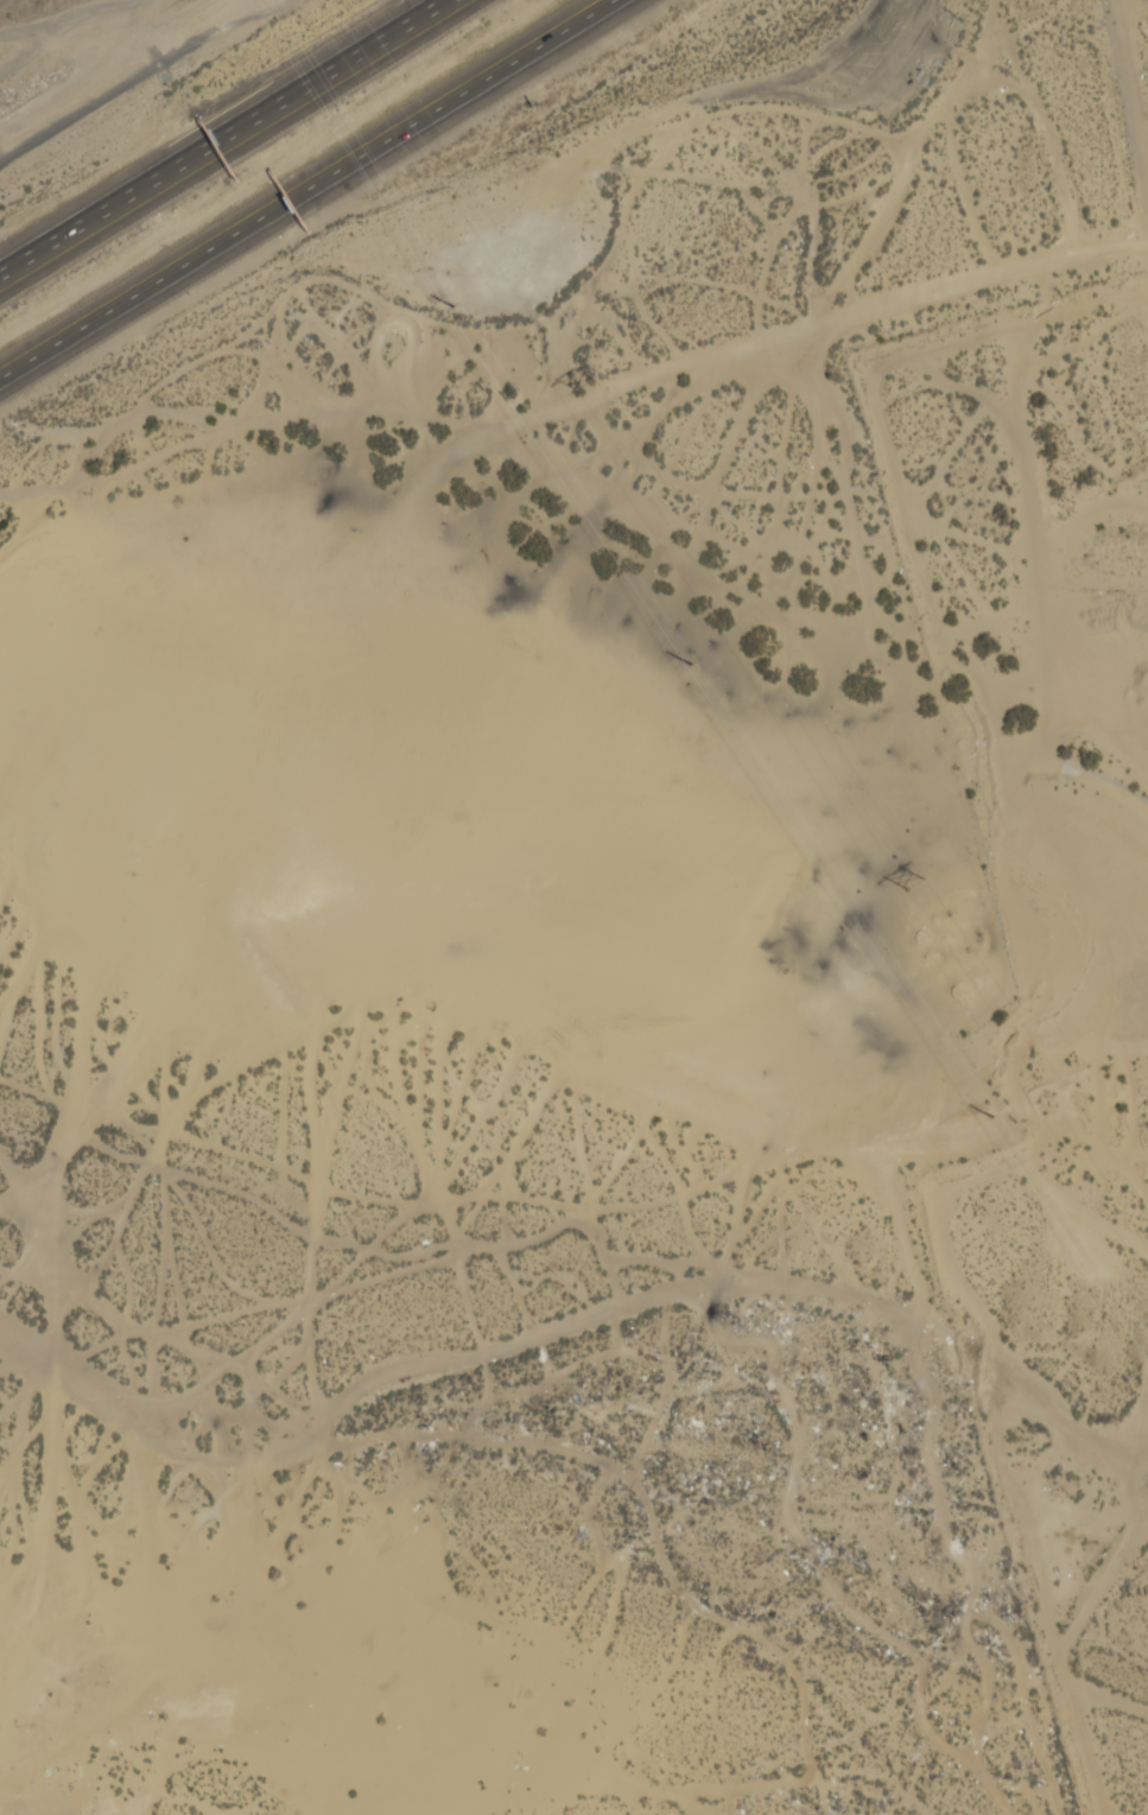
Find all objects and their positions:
road: (217, 132)
road: (307, 189)
road: (1111, 250)
power tower: (456, 309)
power tower: (584, 383)
power tower: (694, 666)
power tower: (953, 935)
power tower: (995, 1118)

